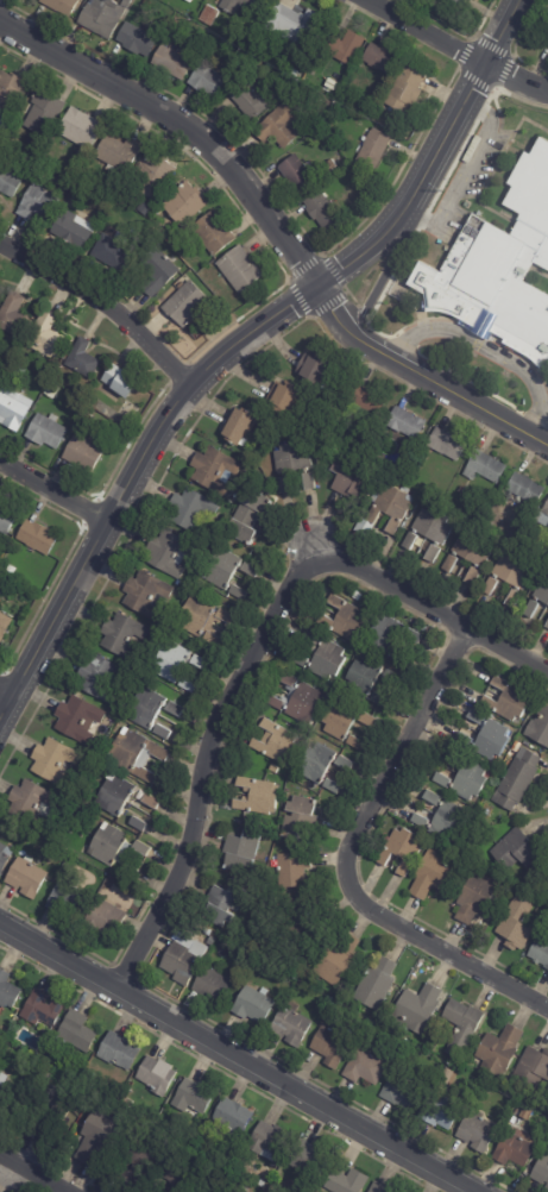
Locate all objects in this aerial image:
building: (193, 1)
building: (465, 1)
building: (149, 2)
building: (239, 5)
building: (64, 6)
building: (210, 15)
building: (106, 17)
building: (296, 25)
building: (139, 40)
building: (348, 49)
road: (456, 49)
building: (385, 61)
building: (174, 62)
building: (296, 73)
building: (210, 81)
building: (13, 90)
building: (332, 92)
road: (514, 95)
building: (256, 96)
building: (405, 98)
building: (327, 105)
building: (366, 111)
road: (481, 111)
building: (48, 112)
road: (500, 118)
building: (82, 126)
building: (282, 127)
building: (122, 149)
building: (376, 149)
road: (452, 165)
road: (496, 165)
building: (330, 167)
building: (115, 170)
building: (301, 175)
road: (462, 175)
building: (157, 176)
building: (11, 181)
building: (83, 186)
building: (42, 202)
building: (188, 203)
building: (325, 211)
road: (422, 222)
road: (273, 225)
building: (78, 227)
building: (218, 232)
building: (151, 245)
building: (115, 251)
building: (499, 265)
building: (242, 269)
road: (540, 271)
building: (162, 272)
road: (382, 277)
road: (393, 280)
road: (102, 303)
building: (189, 305)
building: (15, 315)
road: (415, 321)
road: (485, 322)
building: (51, 333)
road: (407, 340)
road: (238, 341)
road: (487, 350)
building: (13, 351)
building: (84, 359)
building: (20, 371)
building: (314, 372)
building: (125, 379)
road: (467, 381)
road: (547, 387)
building: (53, 393)
building: (365, 400)
building: (285, 401)
building: (14, 407)
building: (89, 416)
road: (534, 420)
building: (403, 424)
building: (238, 427)
building: (49, 431)
road: (541, 441)
building: (445, 444)
building: (86, 452)
building: (289, 458)
building: (421, 459)
building: (483, 468)
building: (209, 469)
building: (349, 478)
building: (306, 482)
building: (279, 485)
building: (523, 490)
road: (53, 493)
building: (461, 493)
building: (390, 508)
building: (189, 512)
building: (543, 516)
building: (7, 519)
building: (245, 525)
building: (433, 526)
building: (39, 537)
building: (410, 544)
building: (472, 548)
building: (166, 556)
building: (432, 556)
building: (449, 564)
building: (221, 569)
building: (248, 570)
building: (512, 572)
building: (471, 577)
building: (5, 585)
building: (491, 589)
building: (542, 590)
building: (237, 591)
building: (145, 595)
building: (512, 600)
building: (360, 601)
building: (531, 610)
building: (201, 617)
building: (342, 617)
road: (424, 617)
building: (5, 626)
building: (547, 627)
building: (309, 635)
building: (385, 635)
building: (119, 636)
building: (412, 636)
building: (300, 659)
building: (397, 659)
building: (327, 660)
building: (169, 661)
building: (199, 663)
building: (364, 675)
building: (391, 676)
building: (96, 678)
building: (185, 684)
road: (6, 691)
building: (379, 698)
building: (295, 701)
building: (508, 701)
building: (145, 708)
building: (174, 709)
building: (473, 719)
building: (74, 720)
building: (339, 720)
building: (367, 720)
building: (538, 728)
building: (162, 732)
building: (462, 739)
building: (492, 741)
building: (276, 742)
building: (353, 742)
building: (514, 747)
building: (133, 752)
building: (451, 759)
building: (52, 761)
building: (314, 763)
building: (342, 764)
road: (199, 765)
building: (273, 768)
building: (441, 779)
building: (515, 780)
building: (470, 782)
building: (330, 785)
building: (114, 796)
building: (257, 796)
building: (430, 798)
building: (150, 801)
building: (29, 805)
building: (298, 820)
building: (418, 820)
building: (137, 823)
building: (447, 823)
building: (53, 824)
building: (108, 845)
building: (516, 848)
building: (140, 851)
building: (401, 851)
building: (242, 854)
building: (4, 858)
road: (348, 866)
building: (291, 870)
building: (128, 871)
building: (25, 877)
building: (433, 877)
building: (474, 898)
building: (64, 899)
building: (219, 905)
building: (102, 920)
building: (514, 924)
building: (177, 939)
building: (538, 954)
building: (335, 961)
building: (182, 964)
building: (374, 983)
building: (213, 986)
building: (6, 991)
building: (252, 1006)
building: (37, 1008)
building: (416, 1009)
building: (289, 1025)
building: (459, 1028)
building: (75, 1033)
building: (328, 1048)
building: (497, 1050)
building: (118, 1052)
road: (238, 1059)
building: (363, 1068)
building: (530, 1068)
building: (156, 1075)
building: (443, 1077)
building: (401, 1091)
building: (4, 1097)
building: (193, 1097)
building: (125, 1102)
building: (51, 1104)
building: (440, 1112)
building: (233, 1116)
building: (546, 1131)
building: (475, 1133)
building: (94, 1137)
building: (269, 1140)
building: (512, 1150)
building: (137, 1158)
building: (306, 1159)
building: (174, 1167)
building: (541, 1172)
road: (32, 1173)
building: (346, 1181)
building: (214, 1186)
building: (377, 1187)

